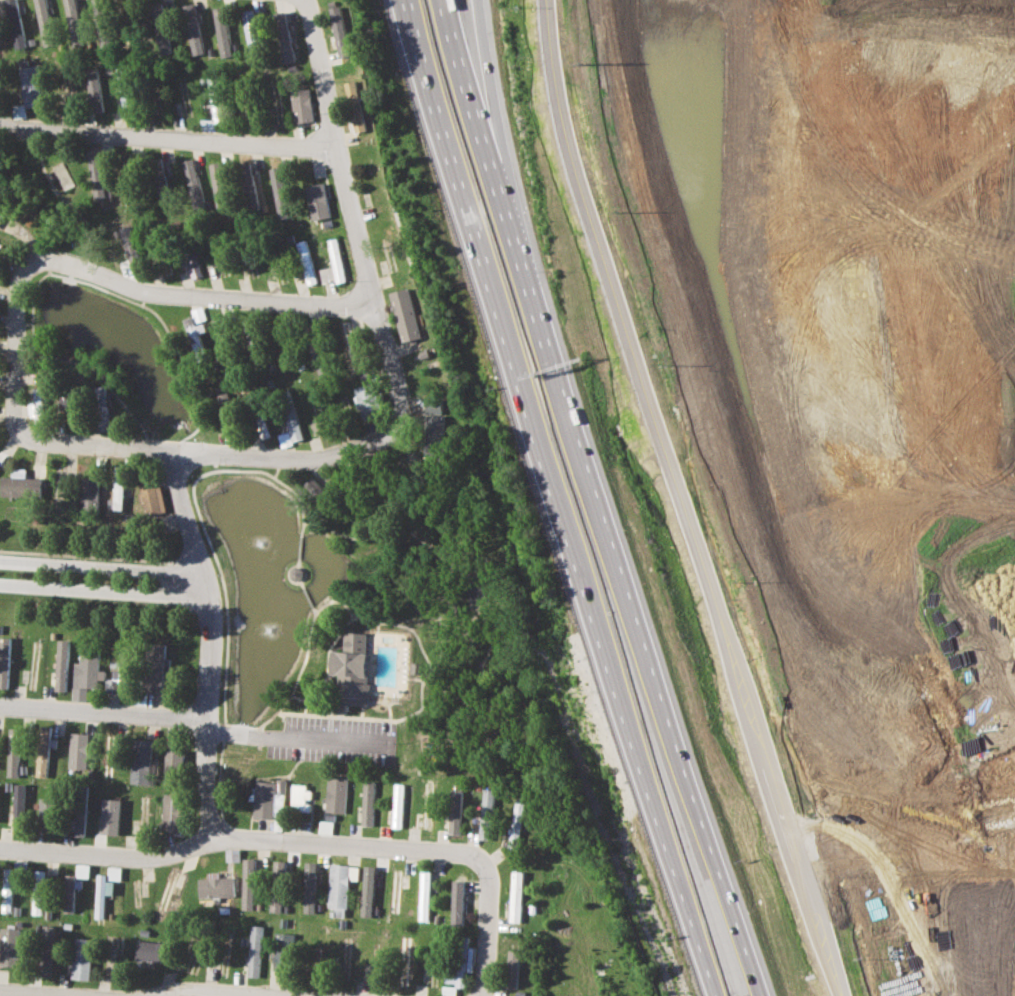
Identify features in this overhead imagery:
building: (74, 21)
building: (44, 22)
building: (16, 24)
building: (162, 29)
building: (192, 29)
building: (250, 29)
building: (222, 31)
building: (284, 37)
building: (32, 85)
building: (124, 85)
building: (94, 86)
building: (215, 99)
building: (301, 105)
building: (354, 106)
building: (19, 110)
road: (788, 127)
road: (168, 135)
road: (471, 138)
road: (488, 138)
building: (65, 175)
building: (100, 176)
building: (193, 184)
building: (219, 185)
road: (452, 186)
building: (163, 188)
building: (248, 188)
building: (279, 191)
building: (318, 200)
road: (358, 227)
building: (130, 239)
road: (35, 261)
building: (306, 262)
building: (333, 263)
building: (193, 264)
building: (199, 314)
building: (405, 314)
building: (195, 333)
building: (68, 402)
building: (36, 403)
building: (367, 406)
building: (432, 406)
building: (228, 407)
building: (103, 408)
building: (294, 426)
building: (263, 427)
building: (434, 437)
building: (285, 439)
road: (281, 457)
road: (548, 483)
building: (20, 486)
building: (118, 489)
building: (317, 490)
building: (150, 495)
road: (675, 500)
road: (101, 566)
road: (614, 575)
road: (104, 590)
road: (211, 634)
building: (4, 662)
building: (62, 665)
building: (155, 668)
building: (353, 668)
building: (88, 670)
road: (103, 713)
road: (294, 734)
road: (629, 738)
building: (81, 750)
building: (14, 751)
building: (42, 751)
building: (141, 761)
building: (173, 766)
building: (336, 794)
building: (301, 797)
building: (19, 800)
building: (368, 803)
building: (398, 805)
building: (48, 808)
building: (455, 811)
building: (173, 812)
building: (111, 816)
building: (80, 821)
building: (517, 822)
road: (905, 842)
road: (343, 845)
road: (114, 859)
building: (280, 869)
building: (82, 870)
building: (114, 873)
building: (250, 884)
building: (215, 886)
building: (309, 887)
building: (340, 888)
building: (7, 889)
building: (395, 889)
building: (38, 891)
building: (368, 891)
building: (68, 893)
building: (171, 893)
building: (103, 894)
building: (424, 895)
building: (515, 896)
building: (276, 900)
road: (491, 922)
road: (733, 935)
road: (693, 938)
building: (10, 946)
building: (47, 949)
building: (150, 951)
building: (255, 951)
building: (283, 952)
building: (82, 958)
building: (461, 963)
building: (512, 968)
road: (216, 991)
building: (448, 991)
road: (35, 993)

